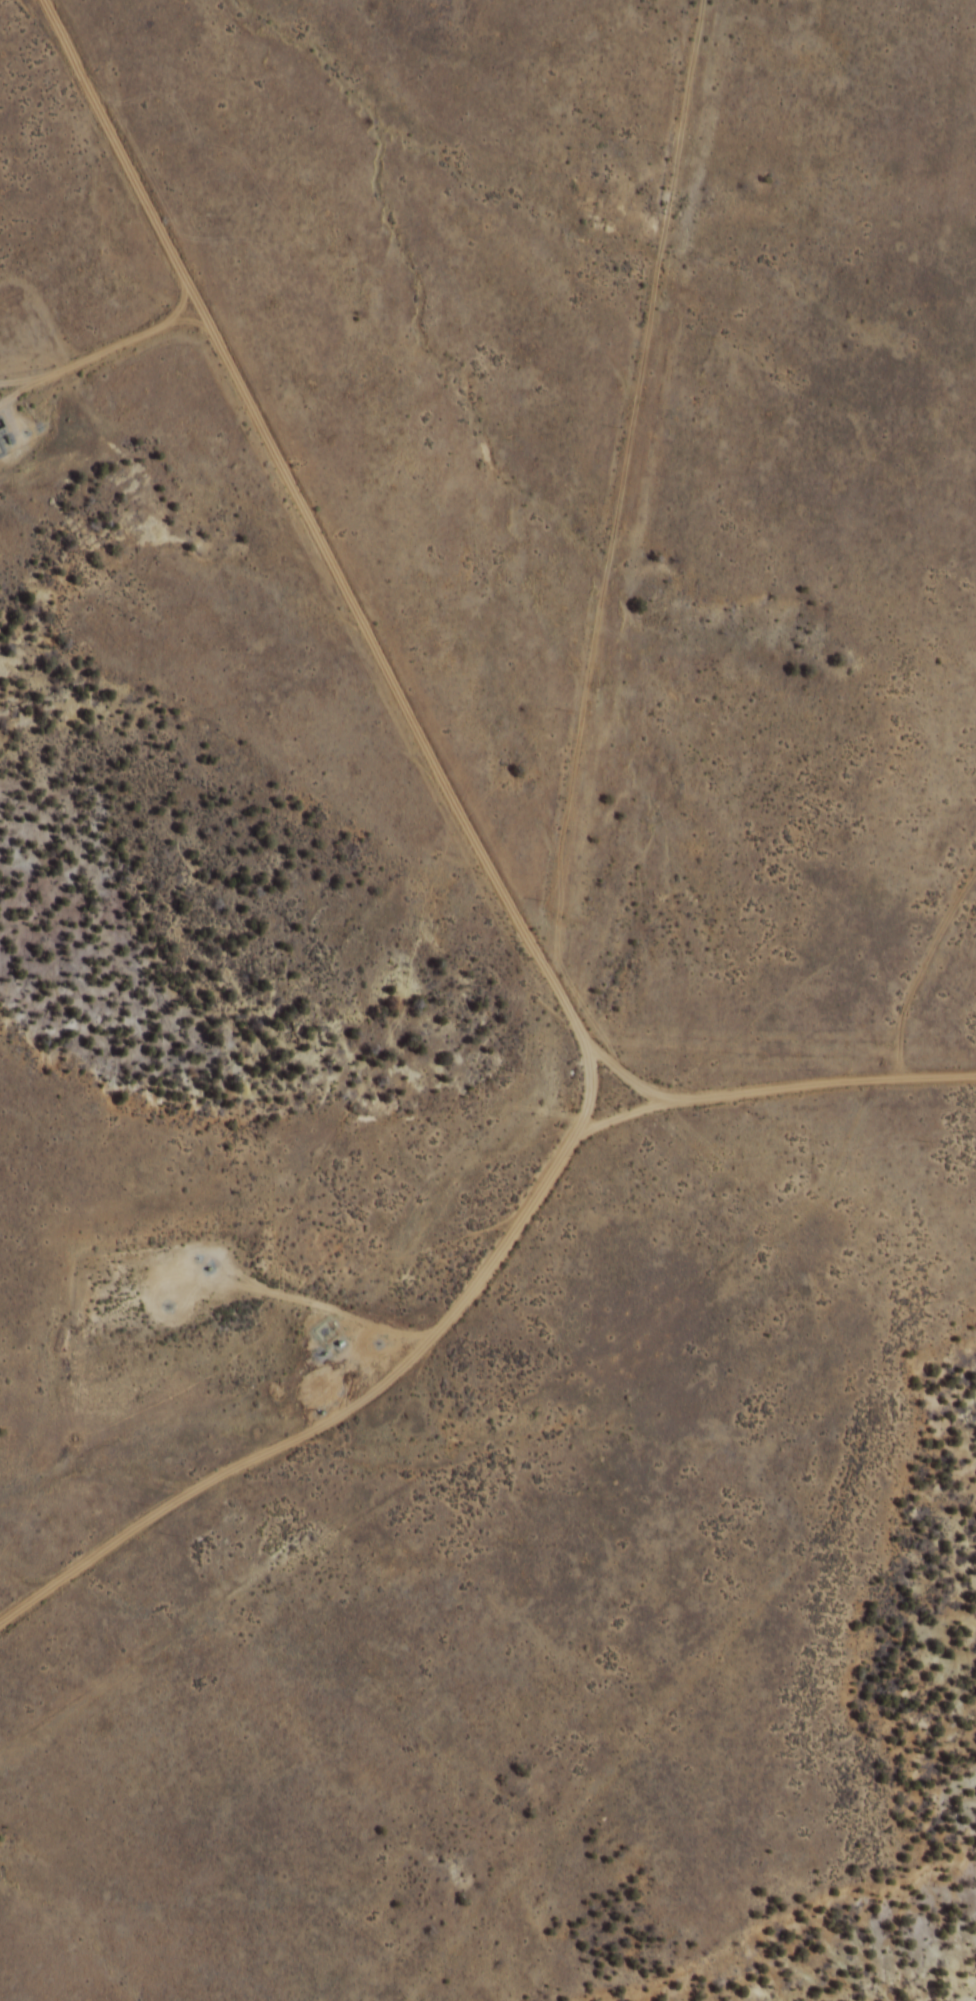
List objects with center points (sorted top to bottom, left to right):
road: (237, 459)
road: (579, 534)
road: (426, 1178)

